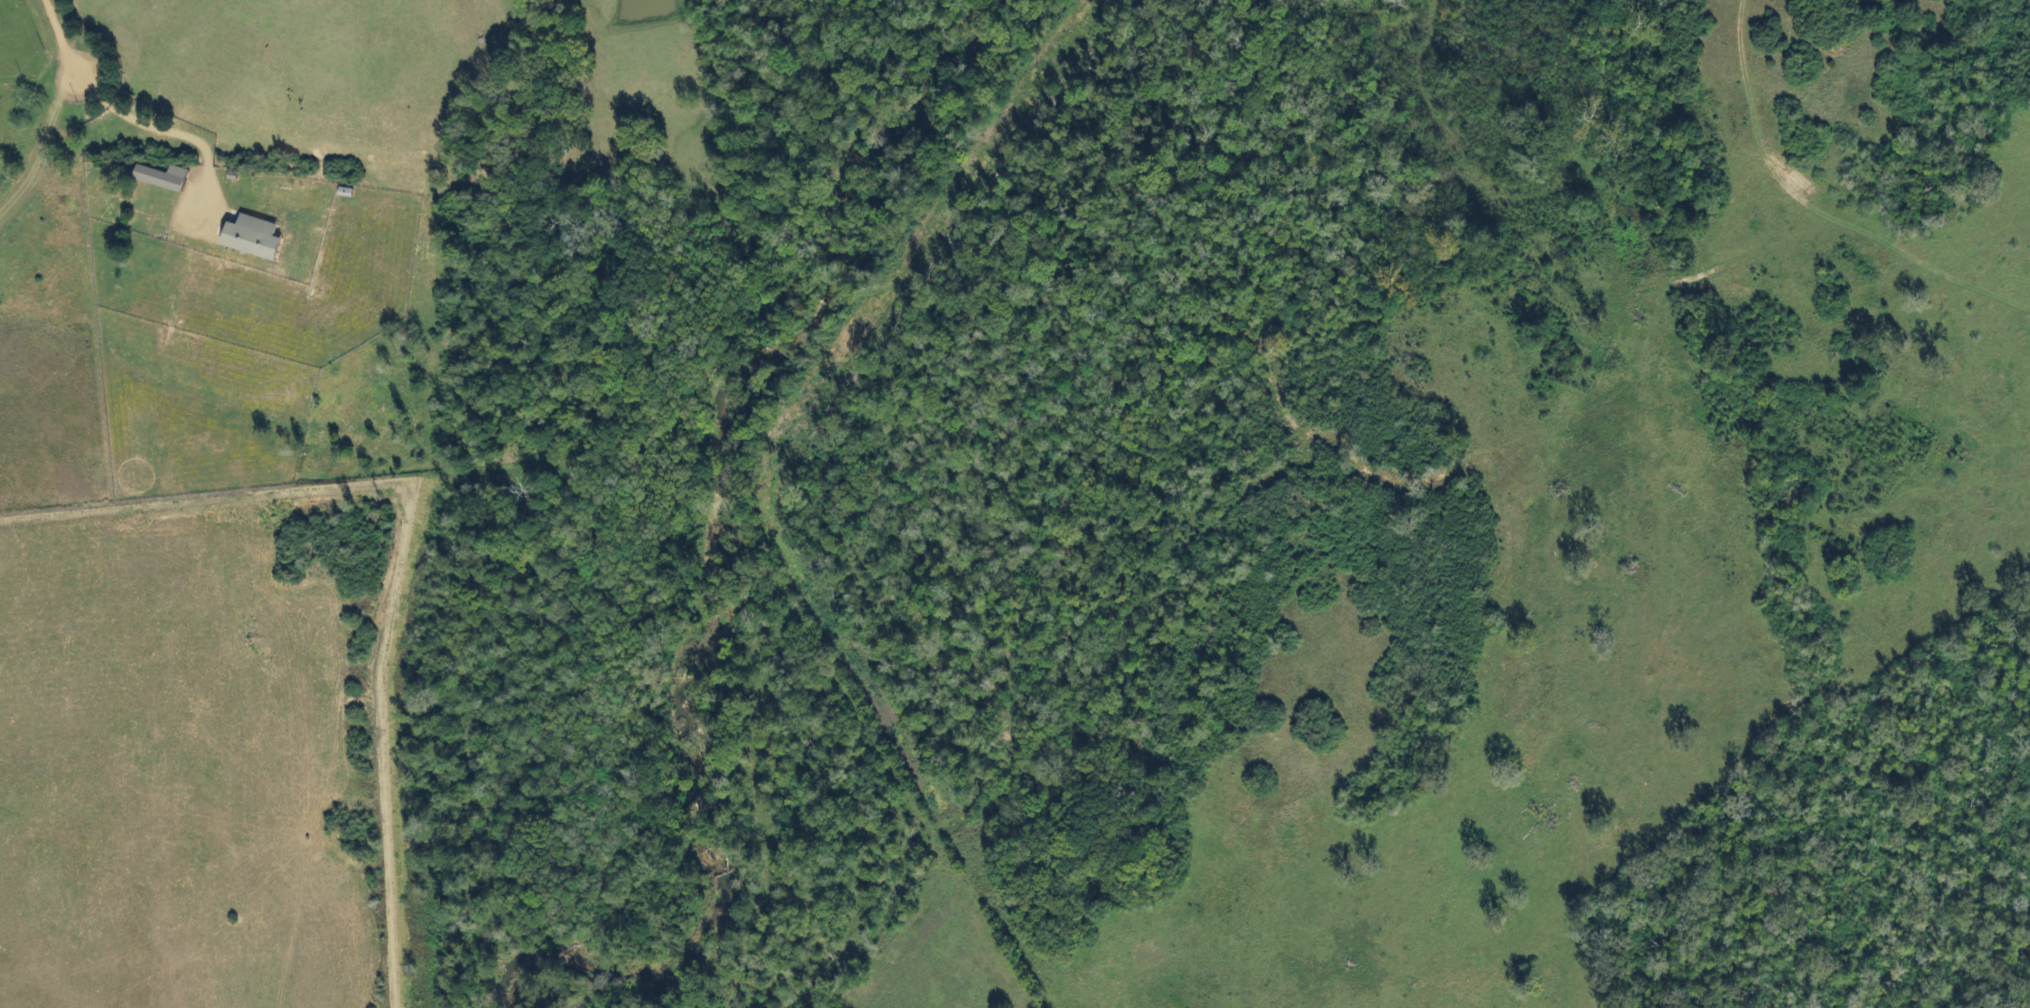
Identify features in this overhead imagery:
road: (60, 40)
road: (174, 131)
building: (170, 178)
building: (261, 238)

